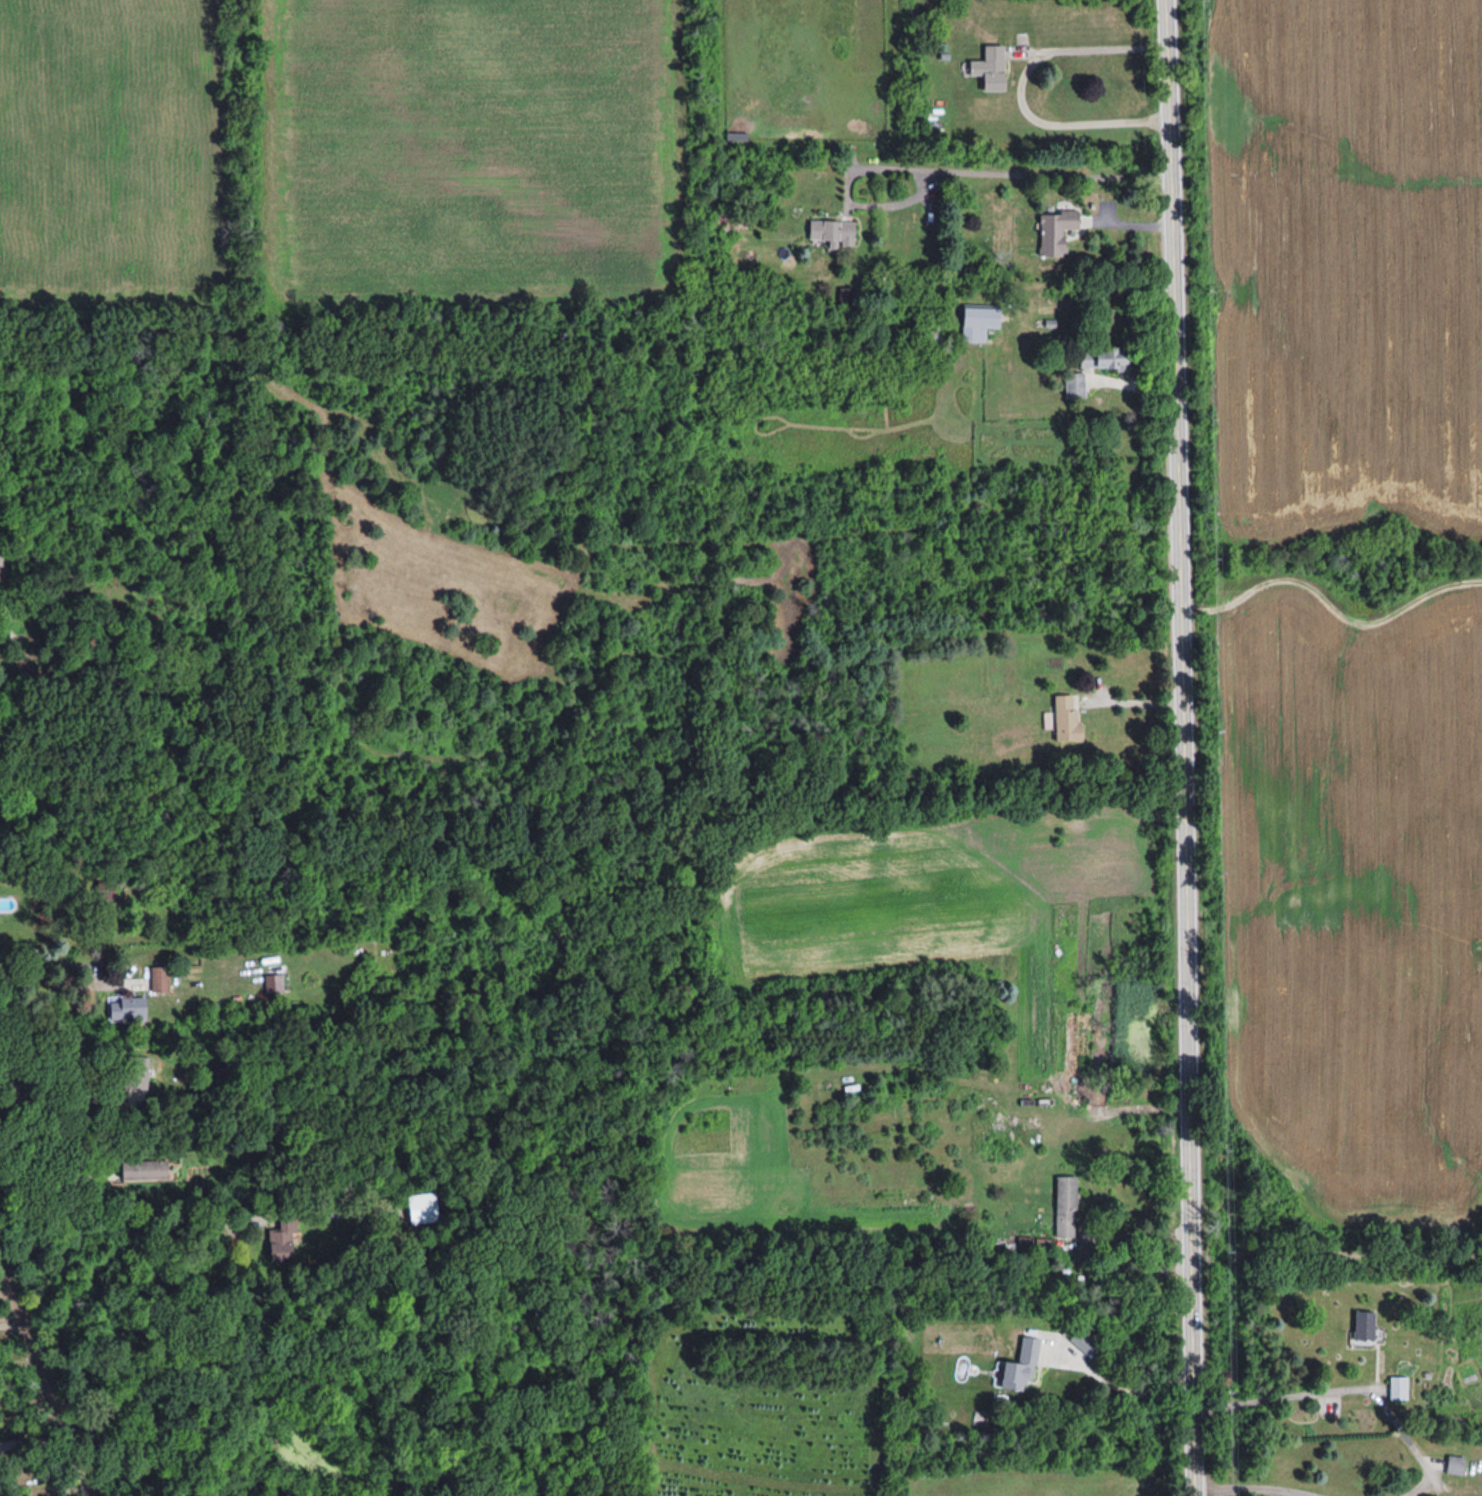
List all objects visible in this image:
building: (992, 67)
road: (1019, 89)
road: (950, 170)
building: (730, 218)
building: (1056, 230)
building: (832, 231)
building: (982, 316)
building: (928, 334)
building: (1104, 358)
building: (1076, 385)
building: (0, 552)
building: (1067, 719)
road: (1183, 747)
road: (41, 974)
building: (161, 979)
building: (129, 1009)
building: (138, 1073)
road: (61, 1104)
building: (149, 1170)
road: (48, 1182)
road: (127, 1199)
building: (1066, 1205)
building: (284, 1238)
road: (1336, 1256)
building: (1366, 1324)
building: (1023, 1365)
road: (48, 1379)
road: (1124, 1387)
building: (1398, 1387)
road: (1349, 1389)
road: (29, 1414)
road: (38, 1444)
building: (1456, 1464)
road: (61, 1488)
road: (1250, 1491)

